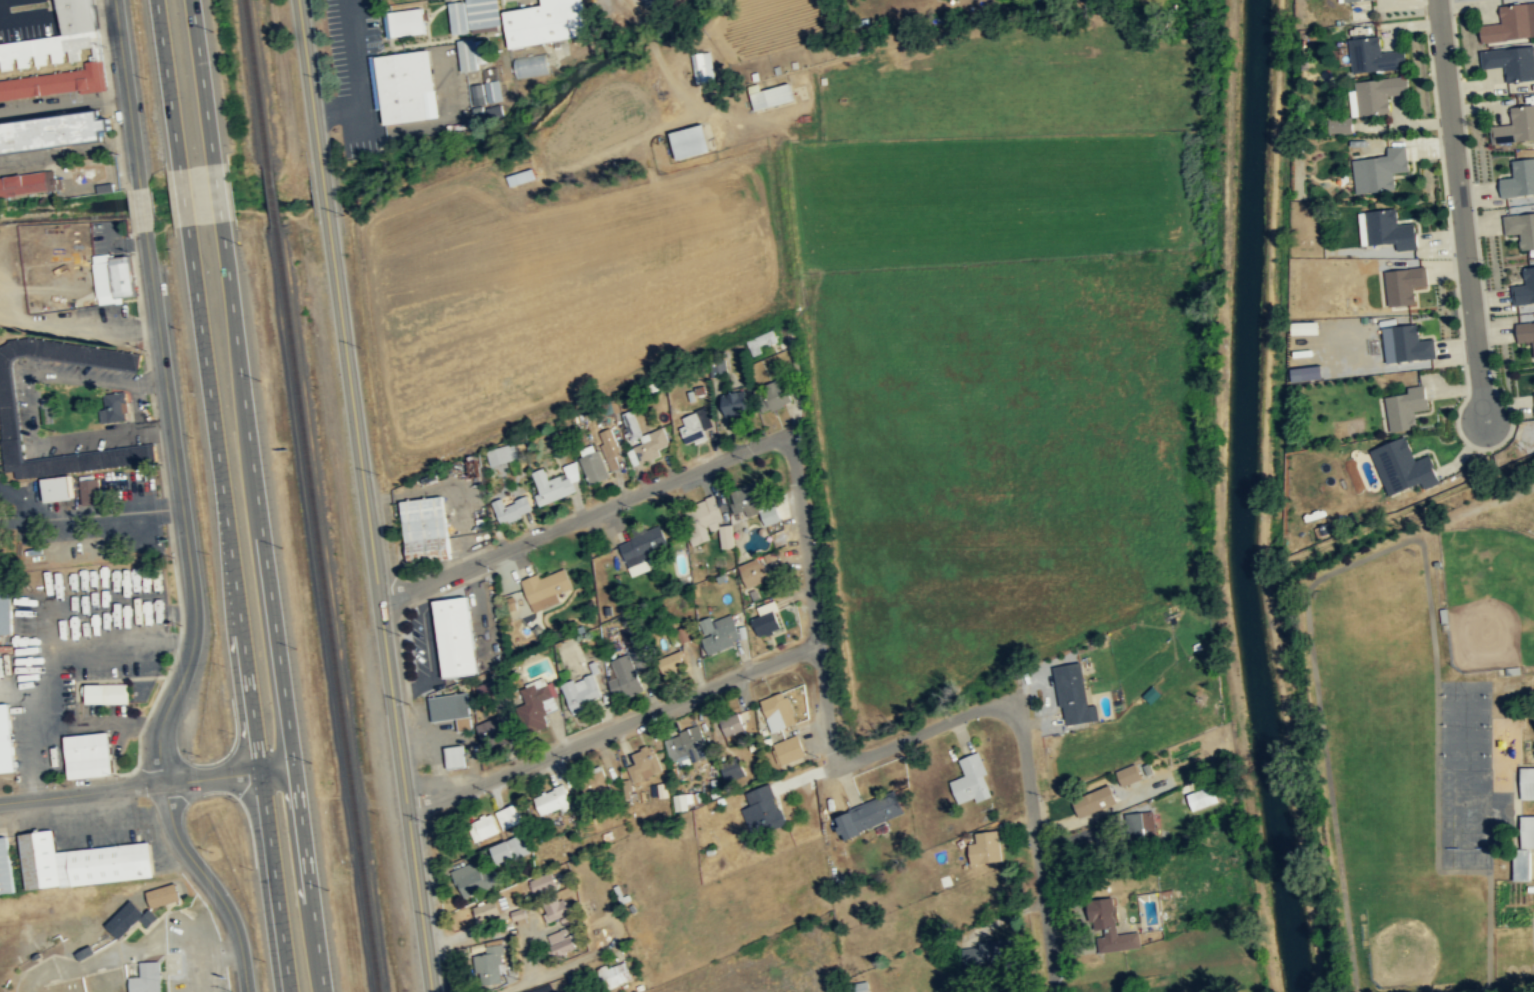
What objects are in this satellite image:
building: (1341, 0)
building: (1352, 0)
road: (57, 12)
building: (473, 14)
building: (545, 21)
building: (404, 22)
building: (1510, 25)
building: (49, 45)
building: (469, 53)
building: (1372, 57)
building: (1511, 62)
building: (531, 64)
building: (703, 66)
railway: (256, 79)
road: (309, 80)
road: (358, 80)
road: (202, 81)
road: (167, 83)
building: (404, 86)
building: (493, 90)
road: (127, 93)
building: (477, 93)
building: (770, 94)
building: (1376, 95)
road: (63, 100)
building: (1338, 126)
building: (1515, 127)
building: (55, 131)
building: (690, 140)
road: (67, 157)
building: (1378, 171)
building: (521, 176)
building: (1519, 180)
building: (29, 183)
road: (323, 186)
road: (217, 191)
railway: (271, 193)
road: (183, 195)
road: (142, 208)
road: (1460, 209)
building: (1521, 229)
building: (1388, 230)
building: (114, 277)
building: (1403, 285)
building: (1524, 288)
building: (1301, 327)
building: (1525, 333)
building: (762, 342)
building: (1410, 343)
building: (73, 352)
building: (1301, 373)
building: (773, 395)
building: (735, 402)
building: (1533, 402)
road: (32, 406)
building: (115, 407)
building: (1406, 407)
building: (629, 422)
building: (695, 426)
building: (10, 432)
building: (648, 446)
building: (609, 448)
building: (498, 453)
building: (592, 463)
building: (1400, 467)
building: (555, 482)
building: (59, 488)
building: (90, 490)
road: (256, 494)
building: (751, 503)
road: (182, 508)
building: (511, 508)
road: (87, 513)
road: (584, 515)
building: (705, 522)
building: (425, 528)
building: (642, 548)
building: (753, 571)
building: (546, 586)
park: (1489, 595)
road: (379, 600)
road: (238, 608)
railway: (327, 610)
building: (6, 613)
building: (765, 618)
building: (719, 633)
building: (455, 635)
building: (682, 635)
building: (670, 661)
building: (625, 676)
building: (486, 688)
building: (106, 693)
building: (581, 693)
building: (1072, 693)
park: (1465, 695)
building: (534, 706)
building: (451, 708)
building: (778, 710)
park: (1465, 724)
road: (612, 727)
building: (732, 727)
building: (494, 729)
road: (905, 738)
building: (7, 740)
road: (431, 746)
building: (684, 746)
building: (788, 748)
park: (1465, 754)
building: (90, 755)
building: (454, 755)
building: (643, 764)
building: (1128, 773)
road: (229, 775)
building: (971, 779)
building: (593, 782)
building: (1526, 782)
road: (82, 792)
building: (1198, 795)
building: (552, 799)
building: (1094, 799)
building: (762, 810)
building: (869, 813)
building: (510, 815)
building: (1138, 822)
building: (484, 826)
building: (984, 847)
building: (509, 849)
building: (82, 861)
building: (1522, 863)
building: (6, 866)
building: (473, 878)
road: (309, 879)
building: (543, 883)
road: (211, 885)
building: (164, 894)
building: (482, 909)
building: (551, 909)
building: (565, 916)
building: (130, 918)
building: (1107, 928)
building: (561, 940)
building: (988, 951)
building: (487, 964)
building: (613, 972)
building: (147, 977)
building: (856, 986)

